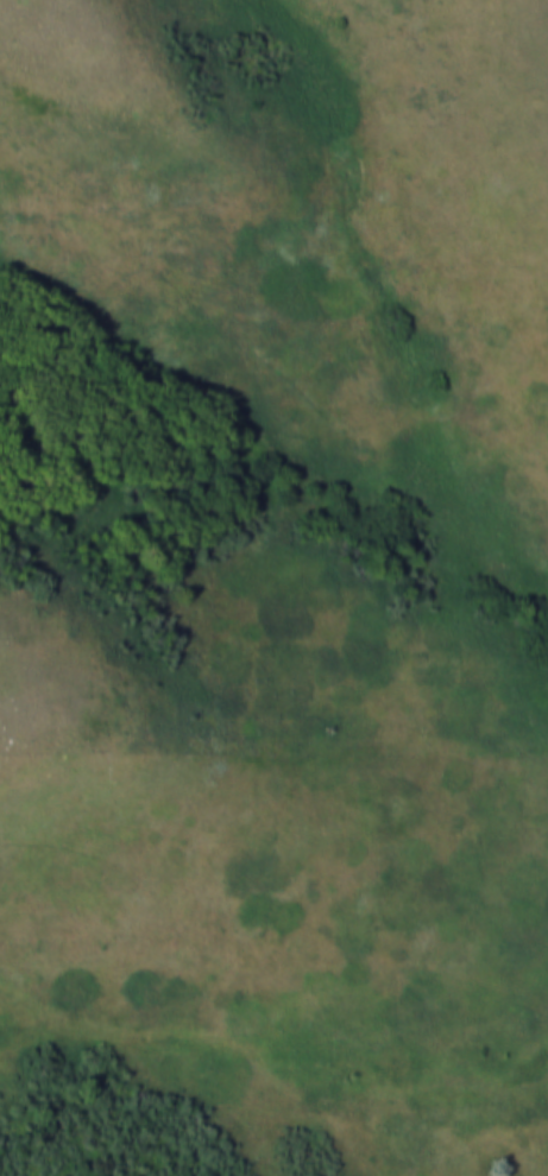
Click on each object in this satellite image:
park: (275, 373)

